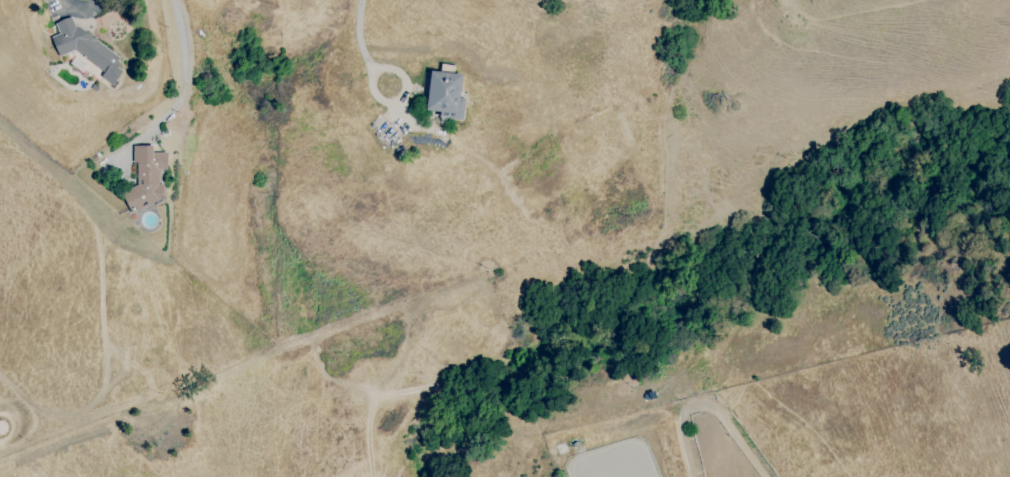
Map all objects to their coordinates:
road: (80, 6)
road: (360, 37)
building: (85, 49)
road: (183, 63)
road: (374, 71)
building: (445, 94)
building: (146, 177)

